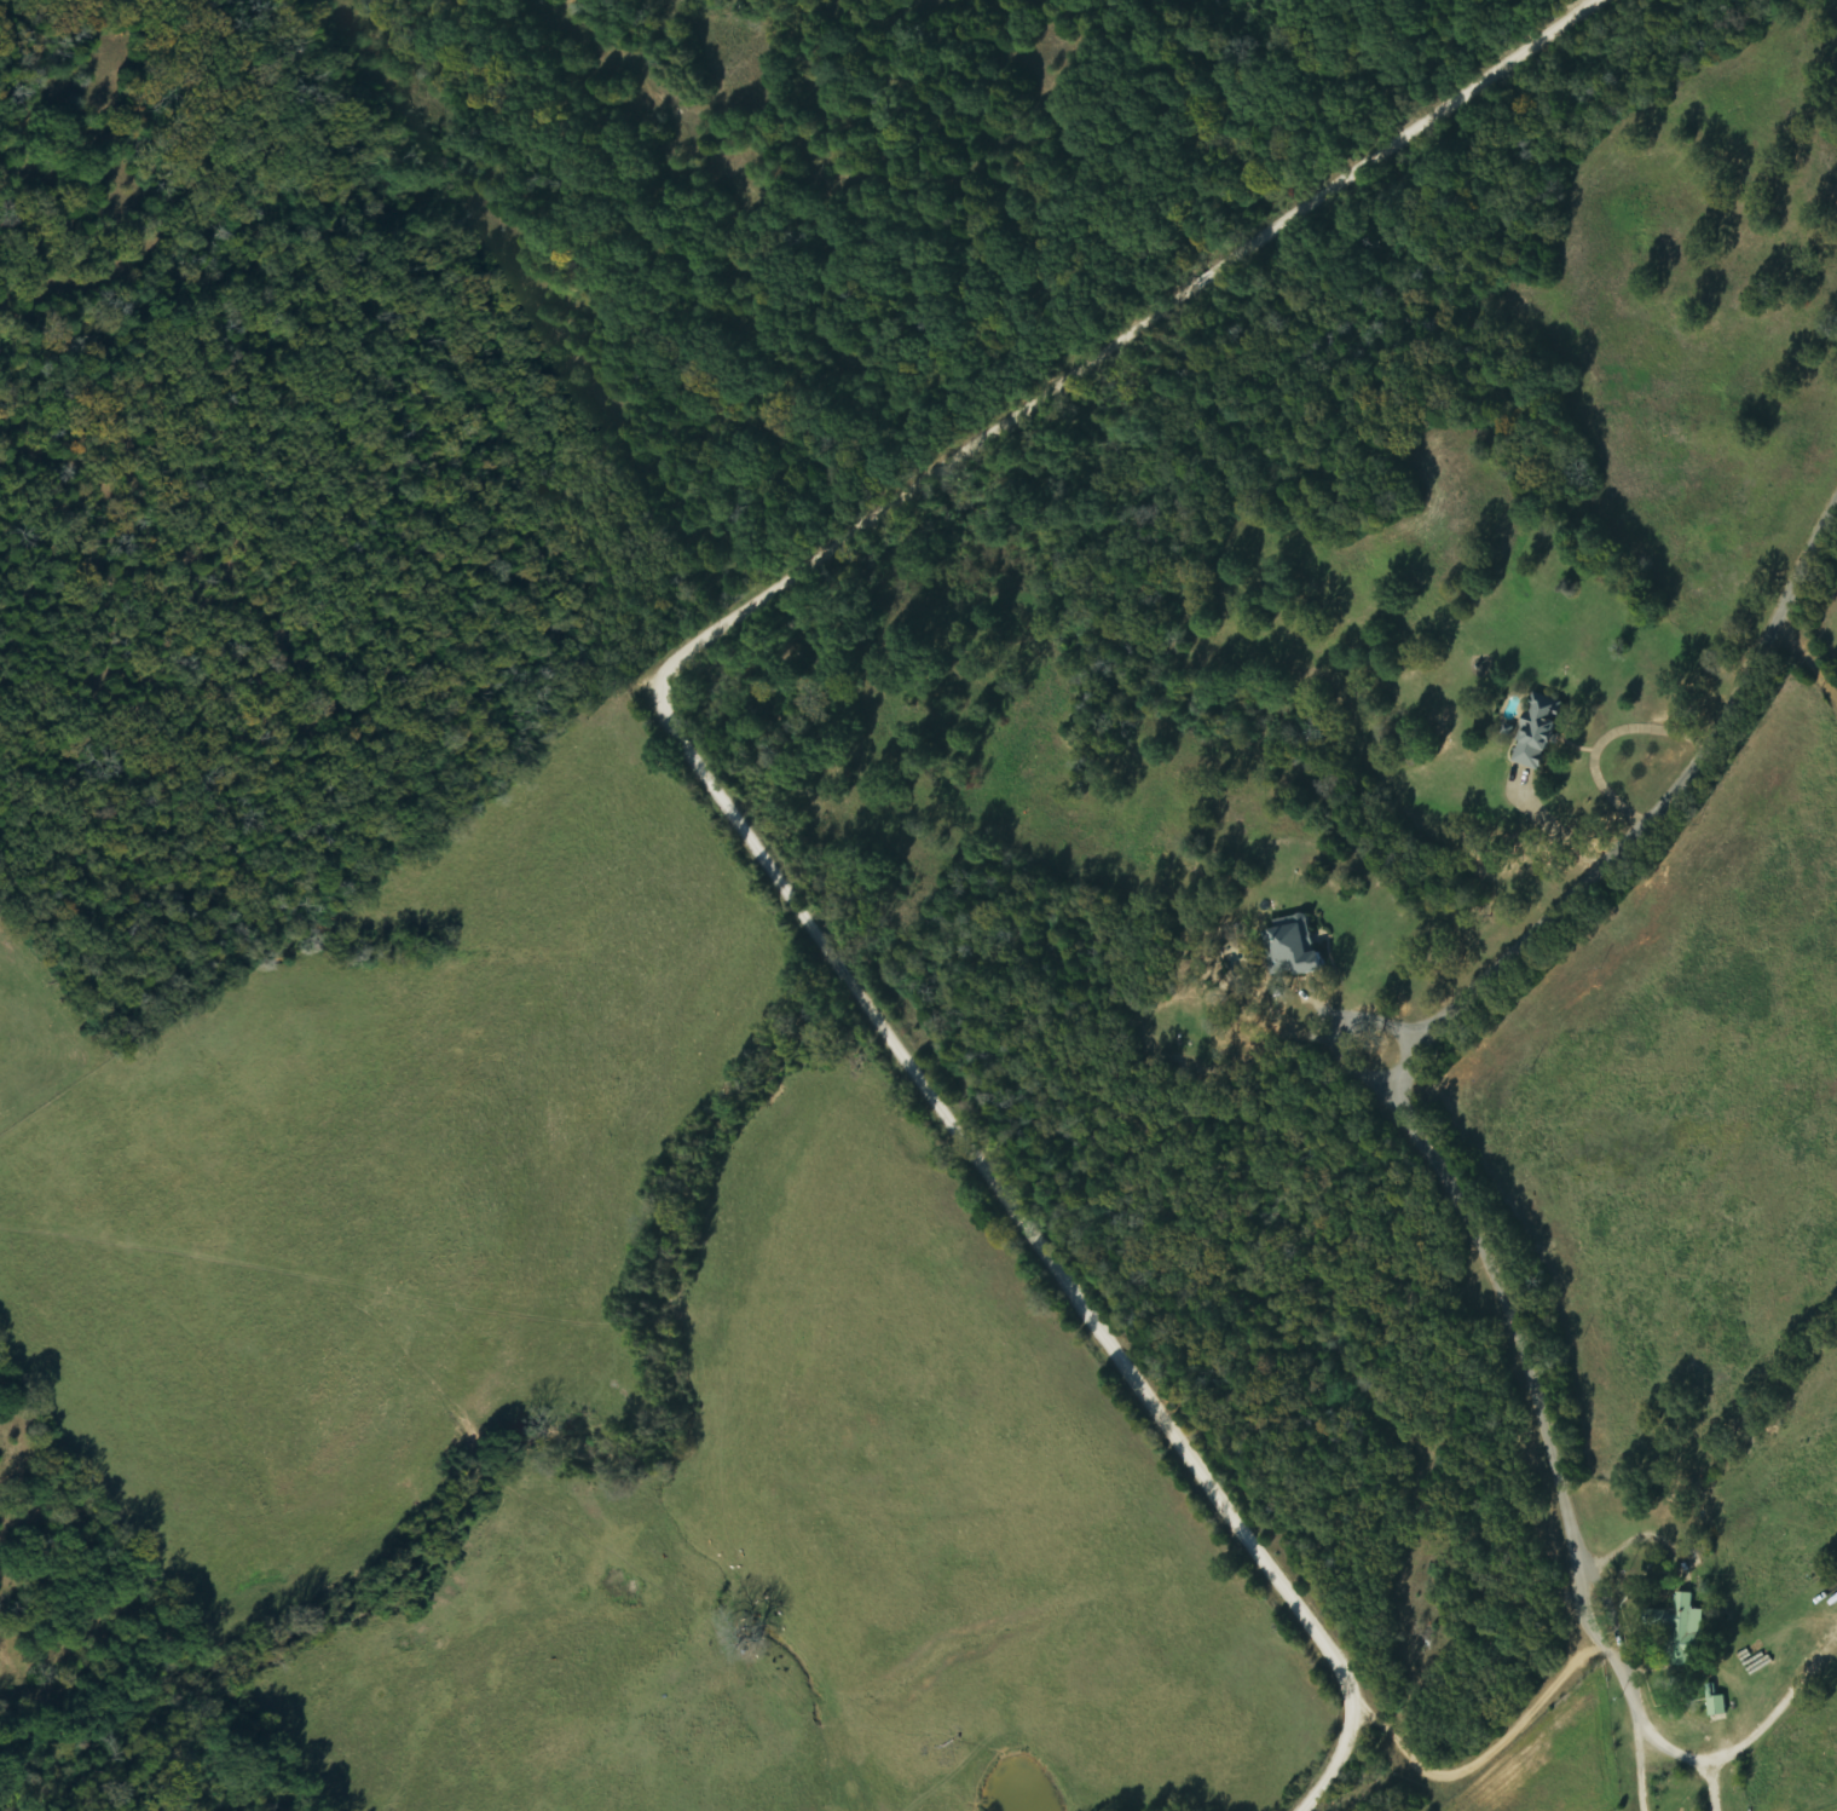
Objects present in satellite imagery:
building: (1542, 731)
road: (710, 769)
building: (1298, 947)
road: (1469, 997)
road: (1614, 1608)
building: (1689, 1631)
building: (1718, 1703)
road: (1670, 1751)

